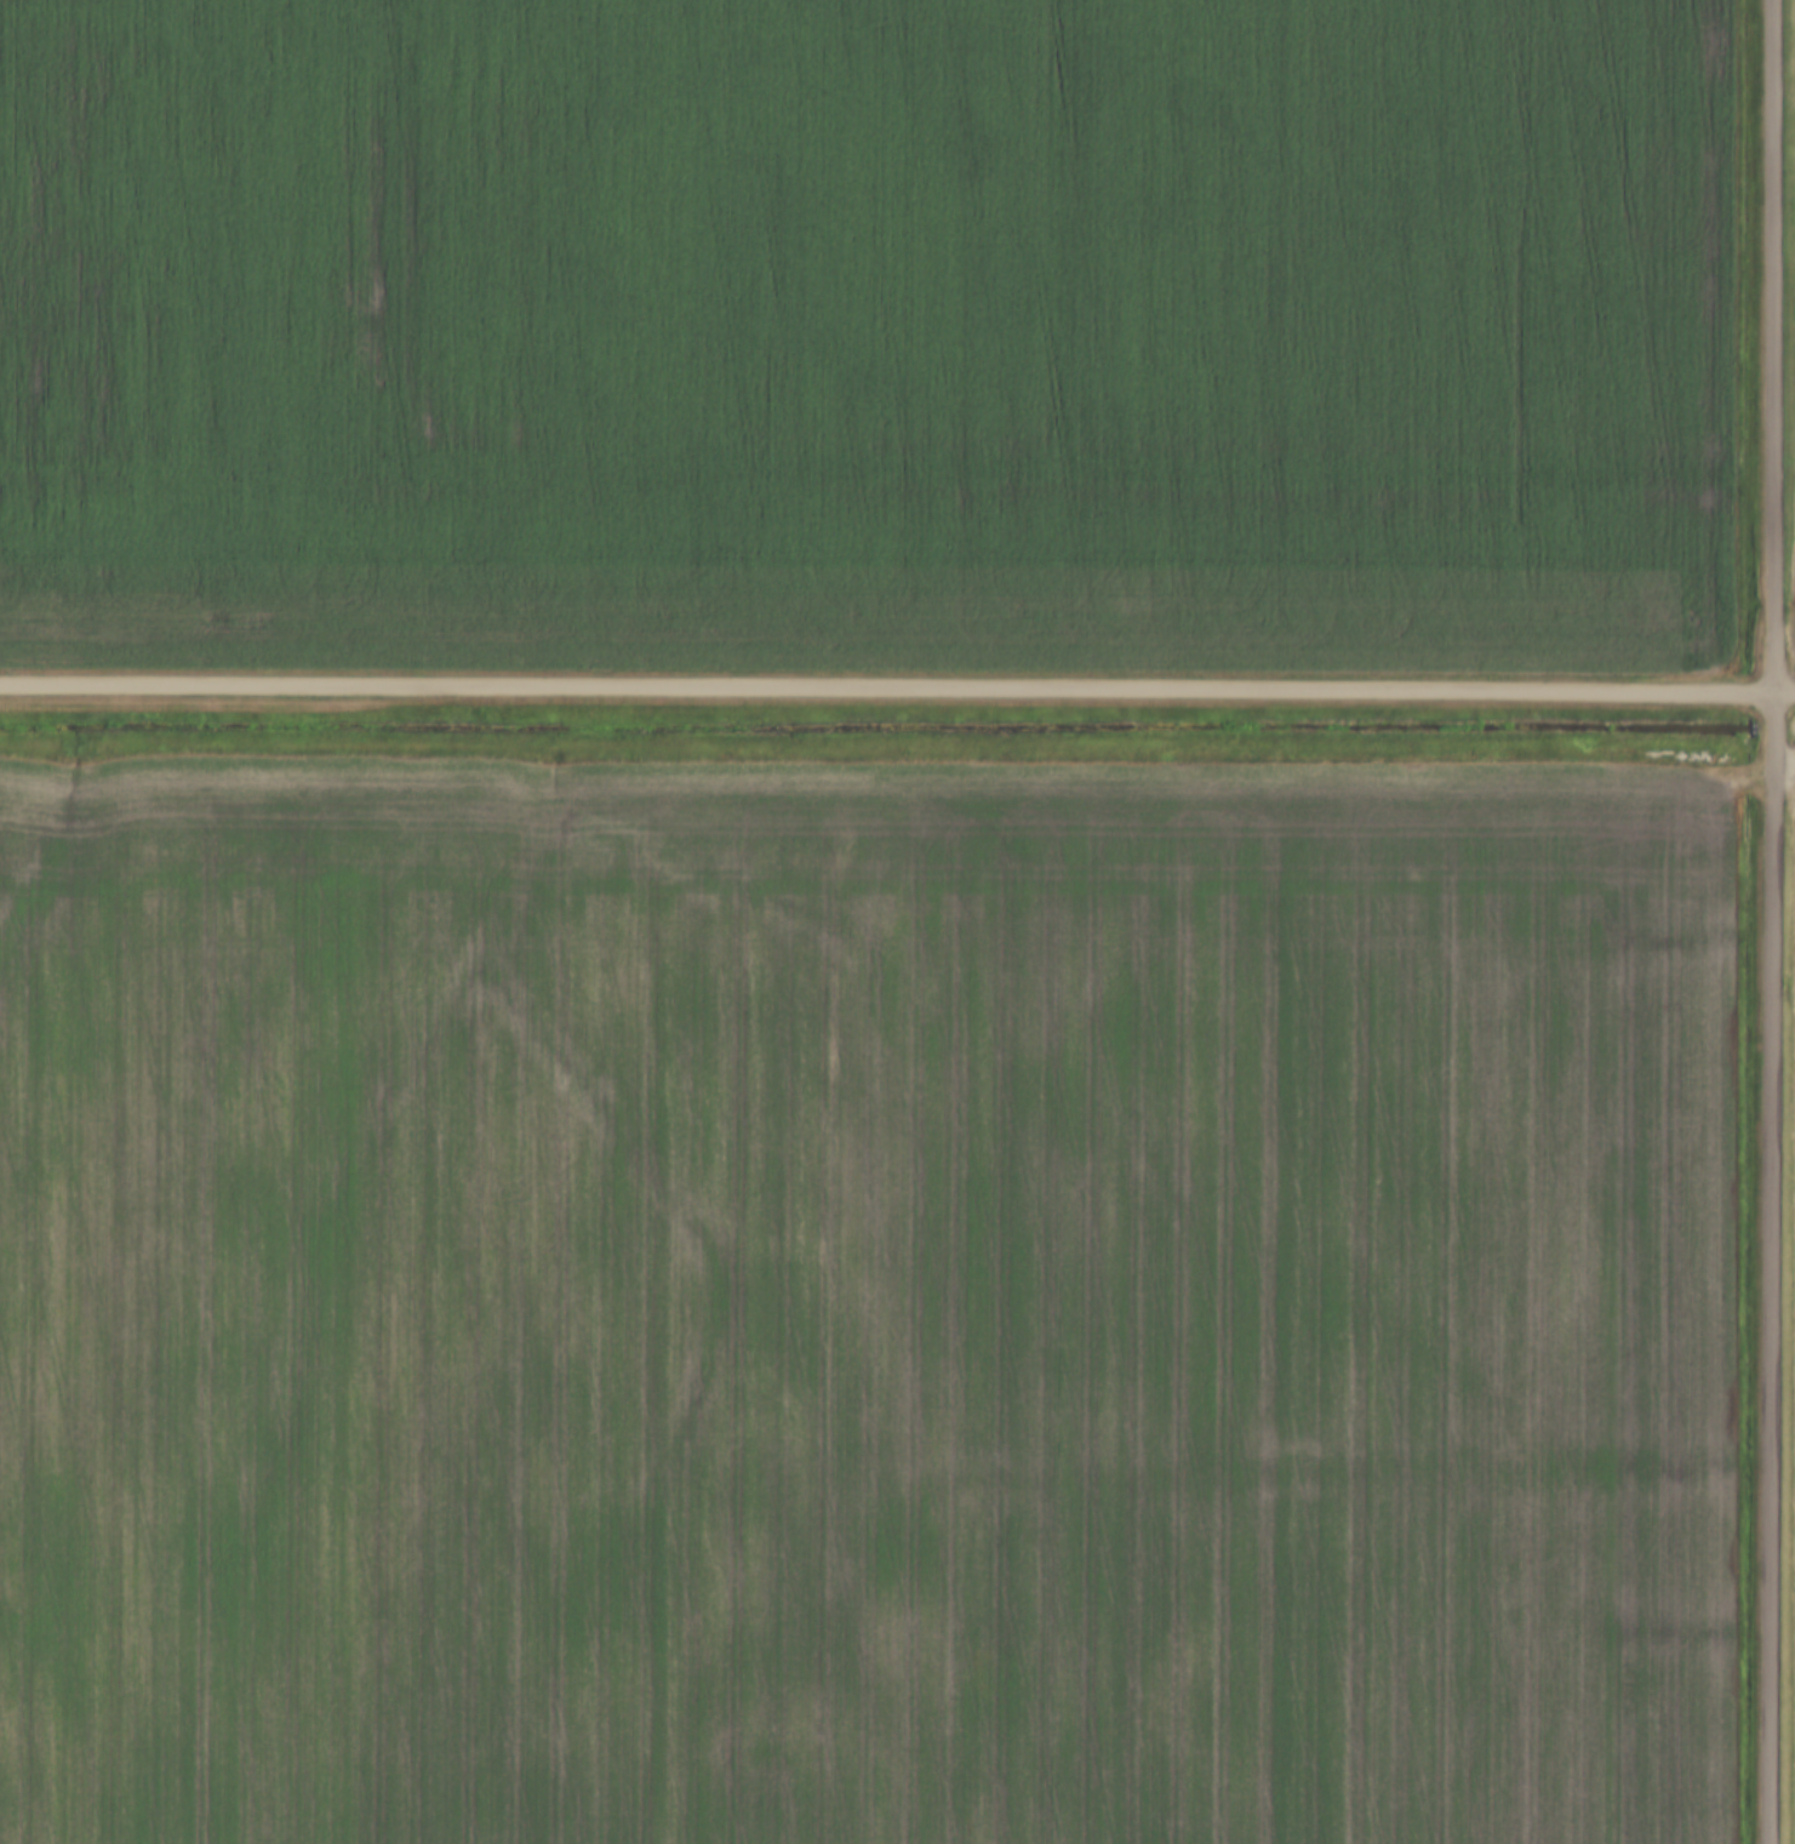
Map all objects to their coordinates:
road: (897, 691)
road: (1772, 921)

